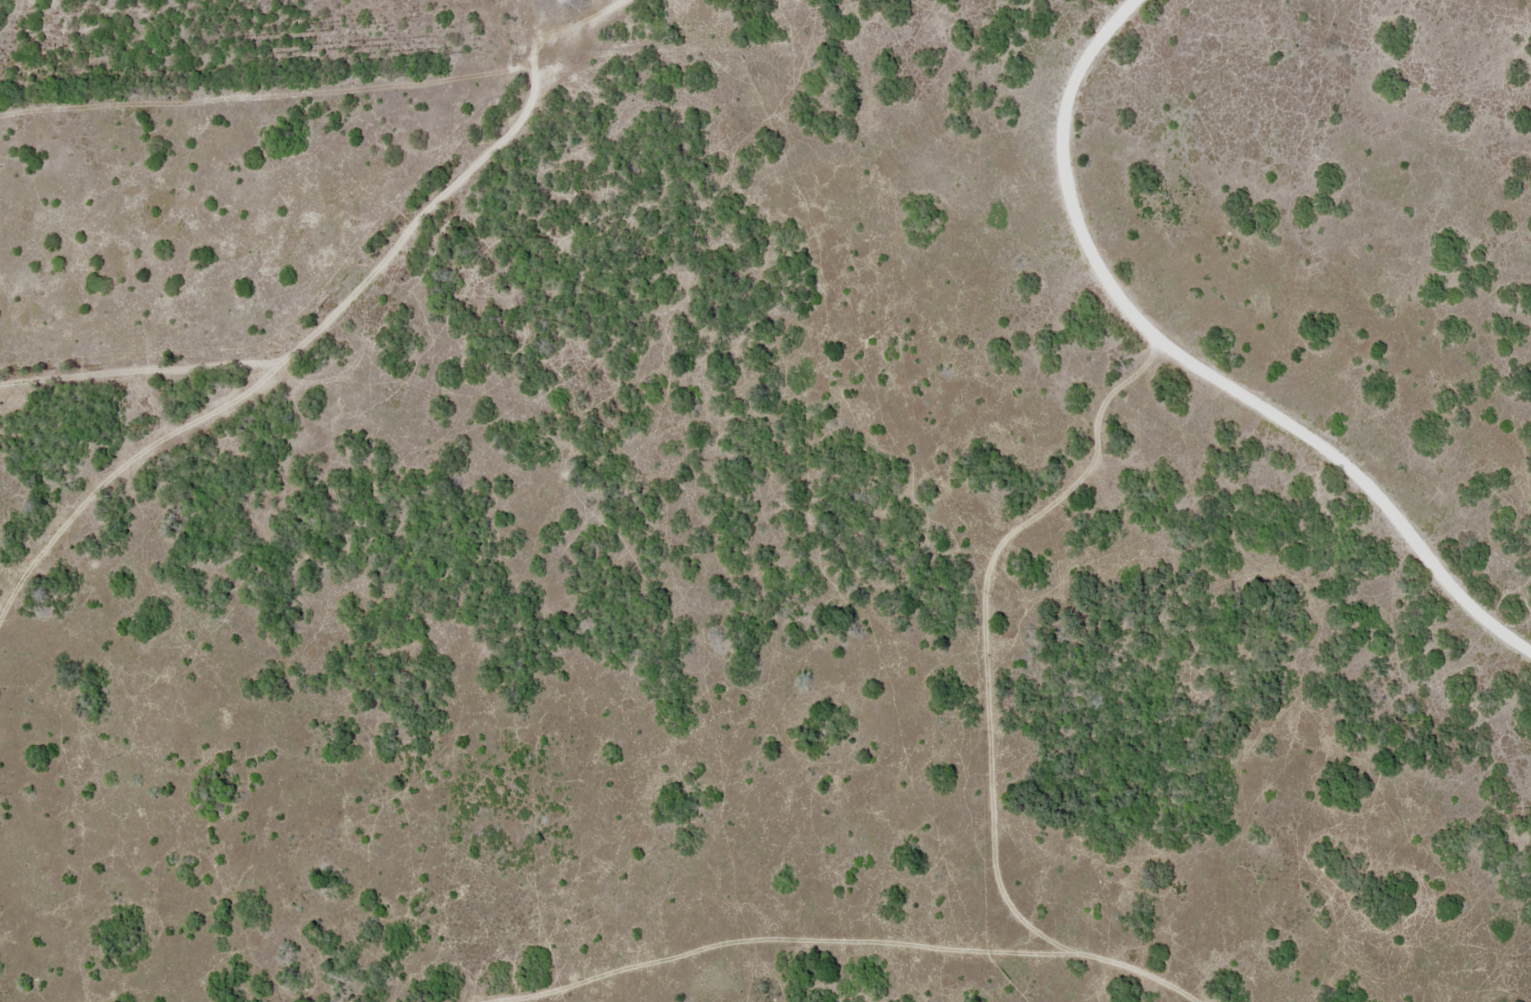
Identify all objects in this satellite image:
road: (1131, 22)
road: (1228, 349)
road: (375, 355)
road: (849, 950)

